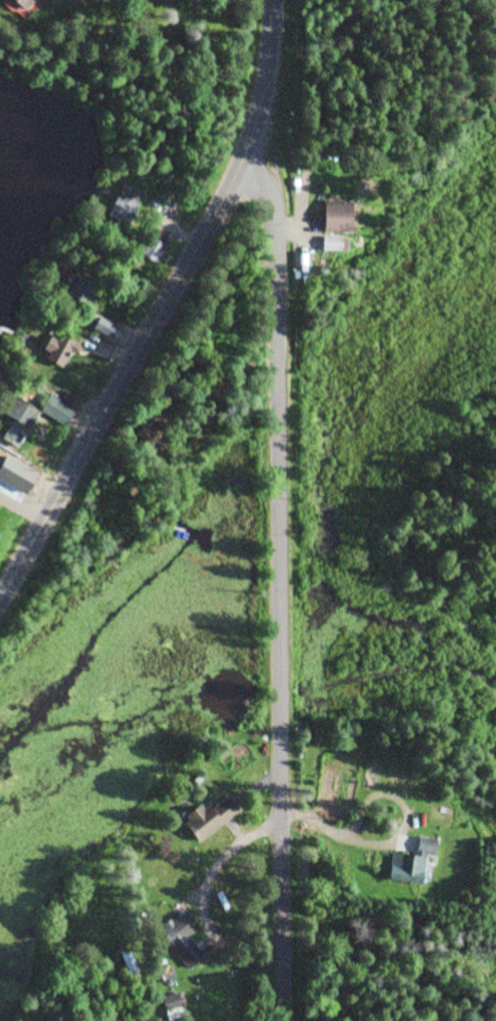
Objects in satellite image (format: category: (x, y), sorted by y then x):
building: (23, 5)
road: (113, 28)
building: (124, 206)
building: (334, 218)
building: (327, 244)
building: (150, 251)
building: (80, 291)
road: (163, 308)
building: (102, 328)
building: (58, 351)
building: (58, 408)
building: (18, 413)
building: (145, 437)
road: (280, 586)
building: (206, 818)
building: (409, 863)
building: (180, 939)
building: (128, 967)

